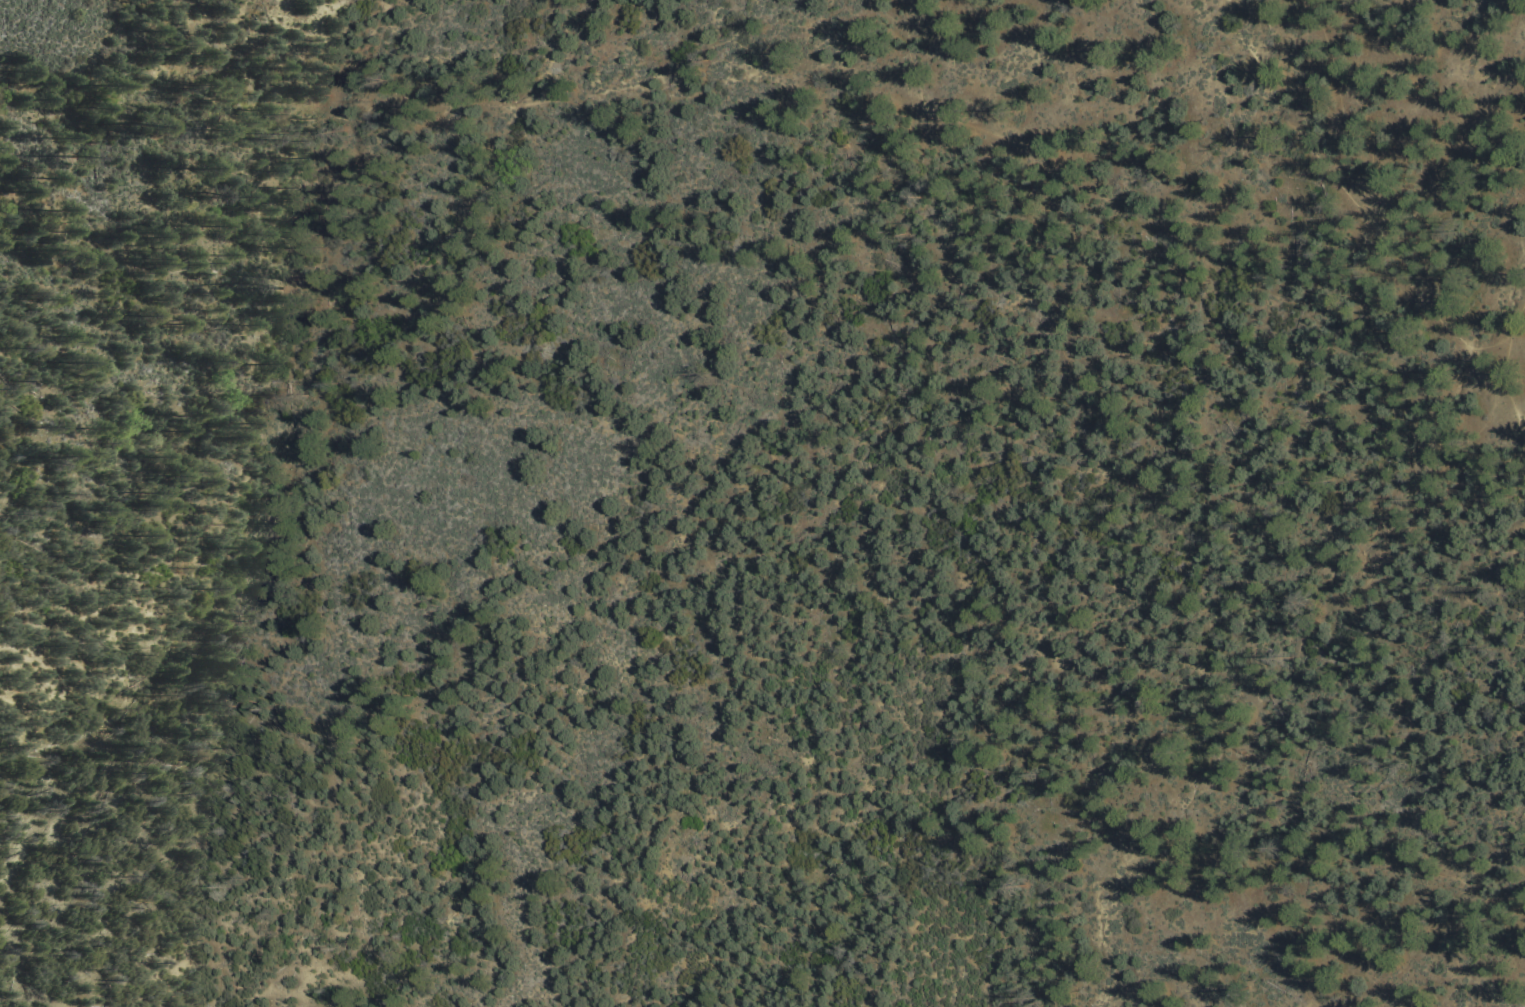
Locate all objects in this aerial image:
road: (1371, 226)

